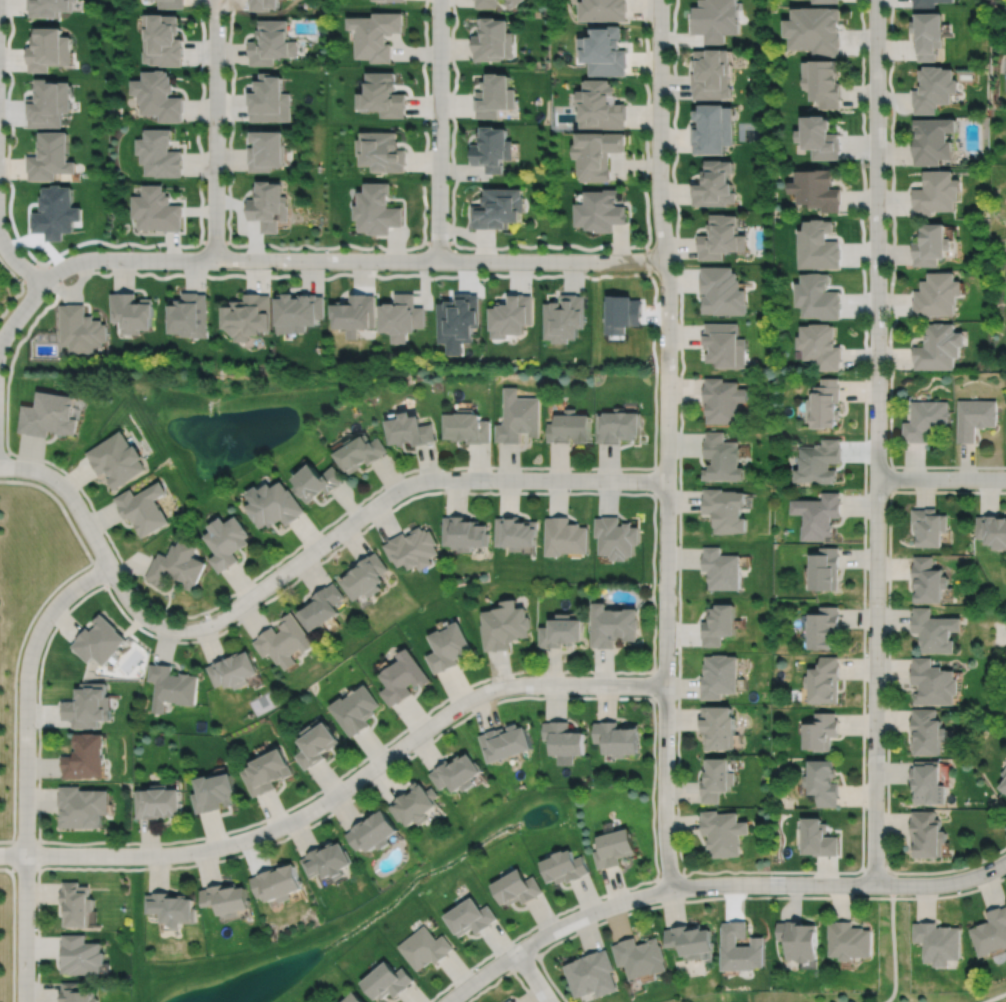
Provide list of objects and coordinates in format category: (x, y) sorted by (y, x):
building: (390, 0)
building: (824, 1)
building: (485, 3)
building: (510, 3)
building: (925, 3)
building: (170, 4)
building: (261, 4)
building: (47, 7)
building: (602, 9)
building: (716, 19)
building: (813, 29)
building: (375, 34)
building: (927, 34)
building: (161, 39)
building: (491, 40)
building: (271, 42)
building: (48, 49)
building: (603, 50)
building: (711, 74)
building: (822, 82)
building: (932, 89)
road: (7, 90)
building: (382, 95)
building: (156, 96)
building: (493, 96)
building: (269, 100)
building: (47, 103)
building: (600, 106)
building: (712, 129)
road: (215, 130)
road: (438, 130)
park: (746, 132)
building: (818, 138)
building: (931, 140)
building: (491, 149)
building: (265, 151)
building: (381, 151)
building: (158, 153)
building: (596, 154)
building: (49, 157)
road: (200, 169)
building: (714, 184)
building: (816, 189)
building: (935, 193)
building: (268, 206)
building: (497, 209)
building: (155, 210)
building: (376, 210)
building: (600, 211)
building: (721, 238)
road: (214, 242)
road: (437, 243)
road: (549, 245)
building: (929, 245)
building: (816, 246)
road: (327, 248)
road: (349, 261)
road: (18, 265)
road: (20, 289)
road: (890, 290)
building: (722, 292)
building: (935, 296)
building: (815, 297)
building: (297, 312)
road: (19, 313)
building: (130, 313)
building: (353, 315)
building: (187, 316)
building: (510, 316)
building: (247, 317)
building: (399, 318)
building: (563, 319)
building: (456, 322)
building: (78, 329)
building: (724, 346)
building: (817, 347)
building: (937, 348)
building: (723, 402)
building: (822, 405)
building: (48, 416)
building: (517, 419)
building: (973, 419)
building: (924, 420)
building: (616, 427)
building: (465, 428)
building: (568, 429)
building: (407, 432)
fountain: (224, 434)
road: (876, 443)
road: (667, 445)
building: (360, 454)
building: (722, 459)
building: (116, 461)
building: (817, 464)
road: (891, 478)
road: (72, 479)
road: (941, 479)
building: (317, 483)
road: (625, 493)
road: (70, 497)
building: (274, 507)
building: (142, 510)
building: (725, 511)
road: (65, 515)
road: (361, 516)
building: (815, 517)
building: (928, 529)
building: (992, 533)
building: (464, 535)
building: (515, 535)
building: (565, 539)
building: (616, 540)
building: (225, 543)
building: (411, 551)
building: (177, 566)
building: (720, 569)
building: (822, 572)
building: (364, 577)
building: (926, 583)
street lamp: (675, 594)
building: (320, 604)
street lamp: (885, 604)
building: (718, 622)
building: (503, 624)
building: (612, 624)
building: (820, 629)
building: (561, 630)
building: (934, 630)
building: (99, 639)
building: (284, 639)
building: (447, 647)
building: (234, 668)
building: (719, 675)
building: (401, 677)
building: (821, 680)
building: (931, 682)
building: (171, 685)
road: (653, 685)
road: (888, 685)
road: (13, 700)
street lamp: (655, 704)
building: (87, 705)
street lamp: (866, 706)
building: (354, 709)
road: (480, 709)
building: (718, 726)
building: (819, 731)
building: (926, 731)
building: (563, 737)
building: (616, 737)
building: (504, 742)
building: (316, 744)
building: (84, 756)
building: (1005, 765)
road: (26, 766)
building: (267, 771)
building: (455, 772)
building: (717, 779)
building: (1003, 780)
building: (820, 782)
building: (926, 782)
road: (341, 790)
building: (214, 791)
park: (9, 800)
building: (158, 802)
building: (413, 804)
street lamp: (675, 804)
building: (81, 806)
street lamp: (865, 809)
building: (371, 832)
building: (723, 832)
building: (925, 834)
building: (816, 838)
road: (19, 840)
building: (613, 848)
building: (326, 860)
road: (39, 861)
building: (563, 867)
road: (12, 868)
road: (873, 870)
road: (765, 872)
street lamp: (773, 875)
street lamp: (892, 875)
road: (670, 876)
building: (278, 882)
street lamp: (653, 883)
road: (714, 885)
building: (515, 888)
road: (738, 897)
building: (226, 898)
building: (75, 904)
building: (171, 908)
building: (468, 917)
building: (990, 932)
road: (12, 936)
building: (691, 941)
building: (847, 941)
building: (799, 942)
building: (936, 942)
road: (893, 945)
building: (423, 948)
building: (741, 948)
building: (79, 955)
building: (640, 957)
road: (523, 962)
park: (891, 971)
road: (505, 974)
building: (591, 975)
road: (532, 977)
building: (384, 982)
building: (75, 993)
park: (726, 997)
road: (995, 997)
building: (353, 999)
building: (339, 1001)
building: (510, 1001)

